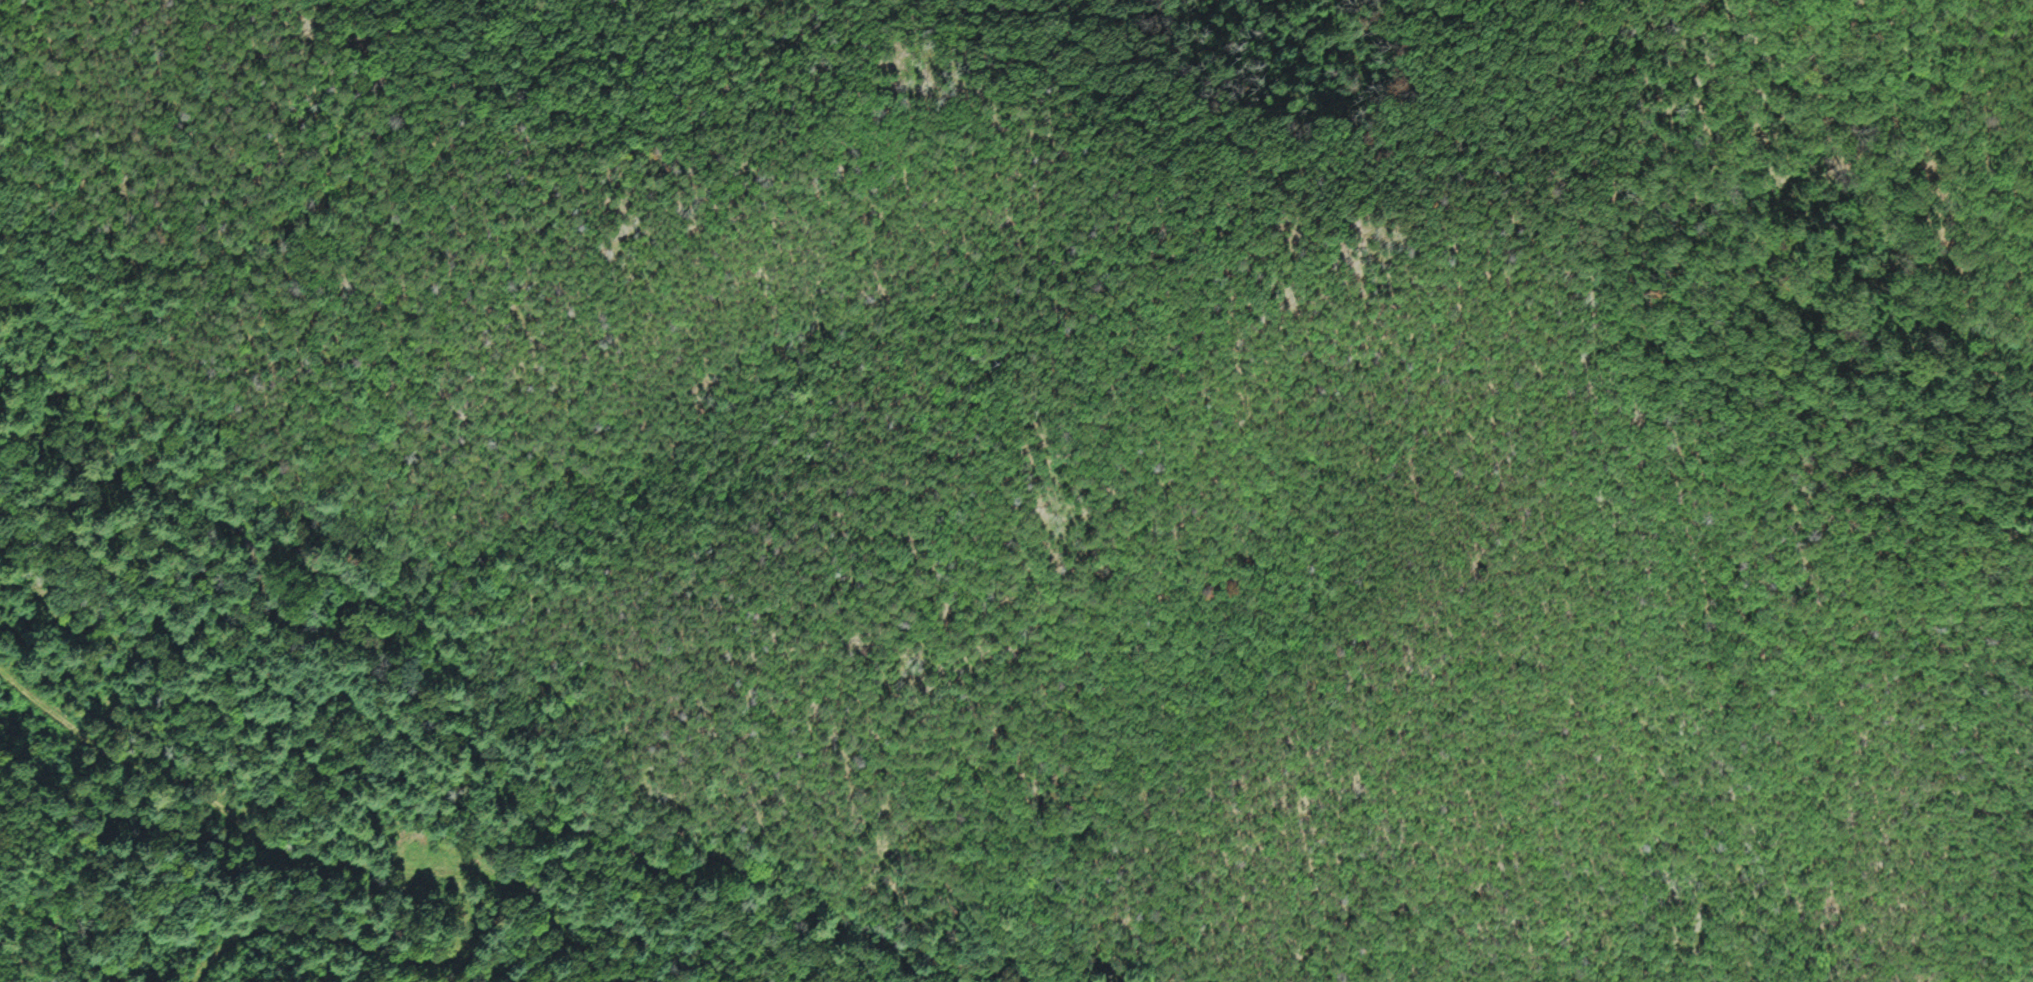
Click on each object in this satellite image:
road: (265, 821)

